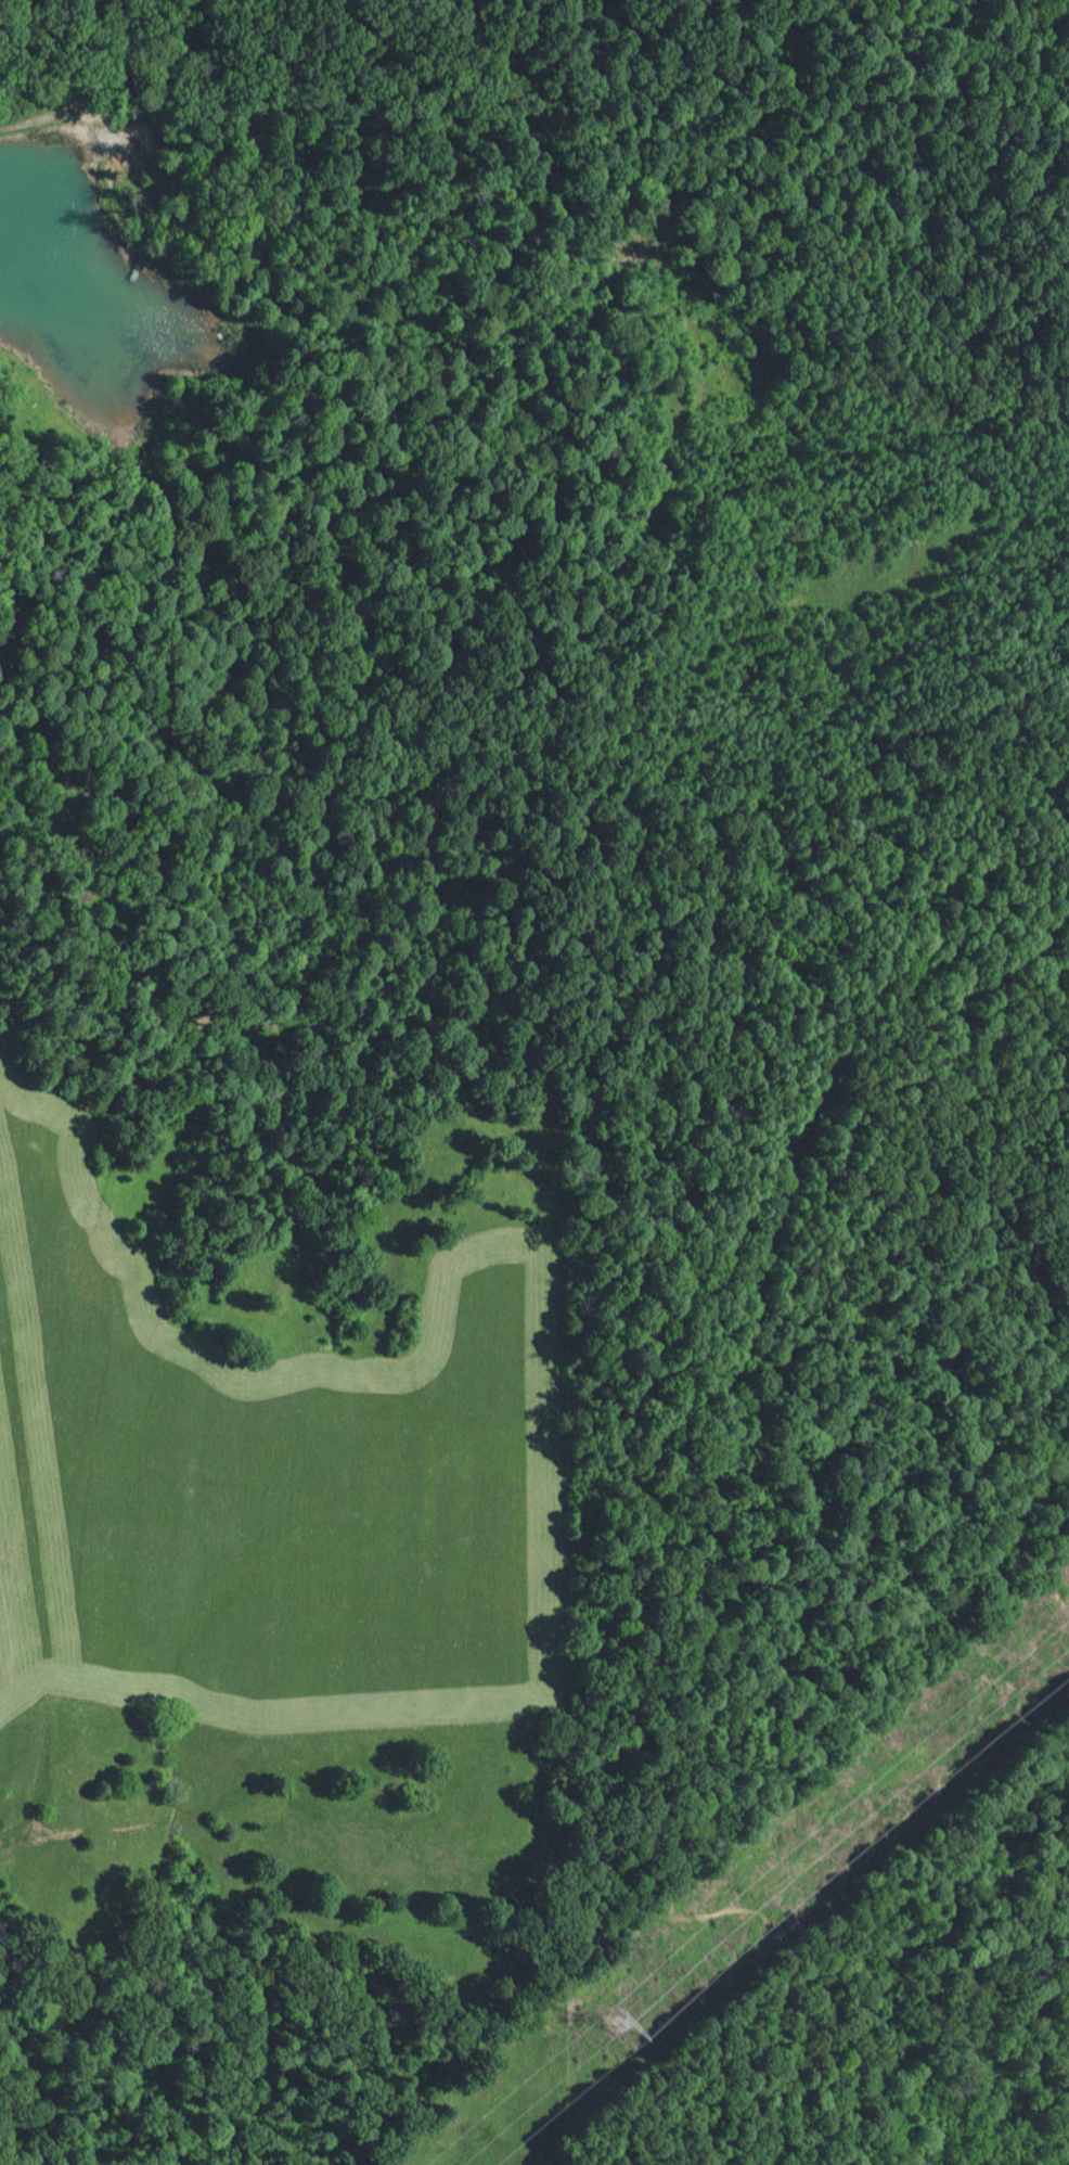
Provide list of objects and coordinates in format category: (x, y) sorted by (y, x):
power tower: (614, 2021)

